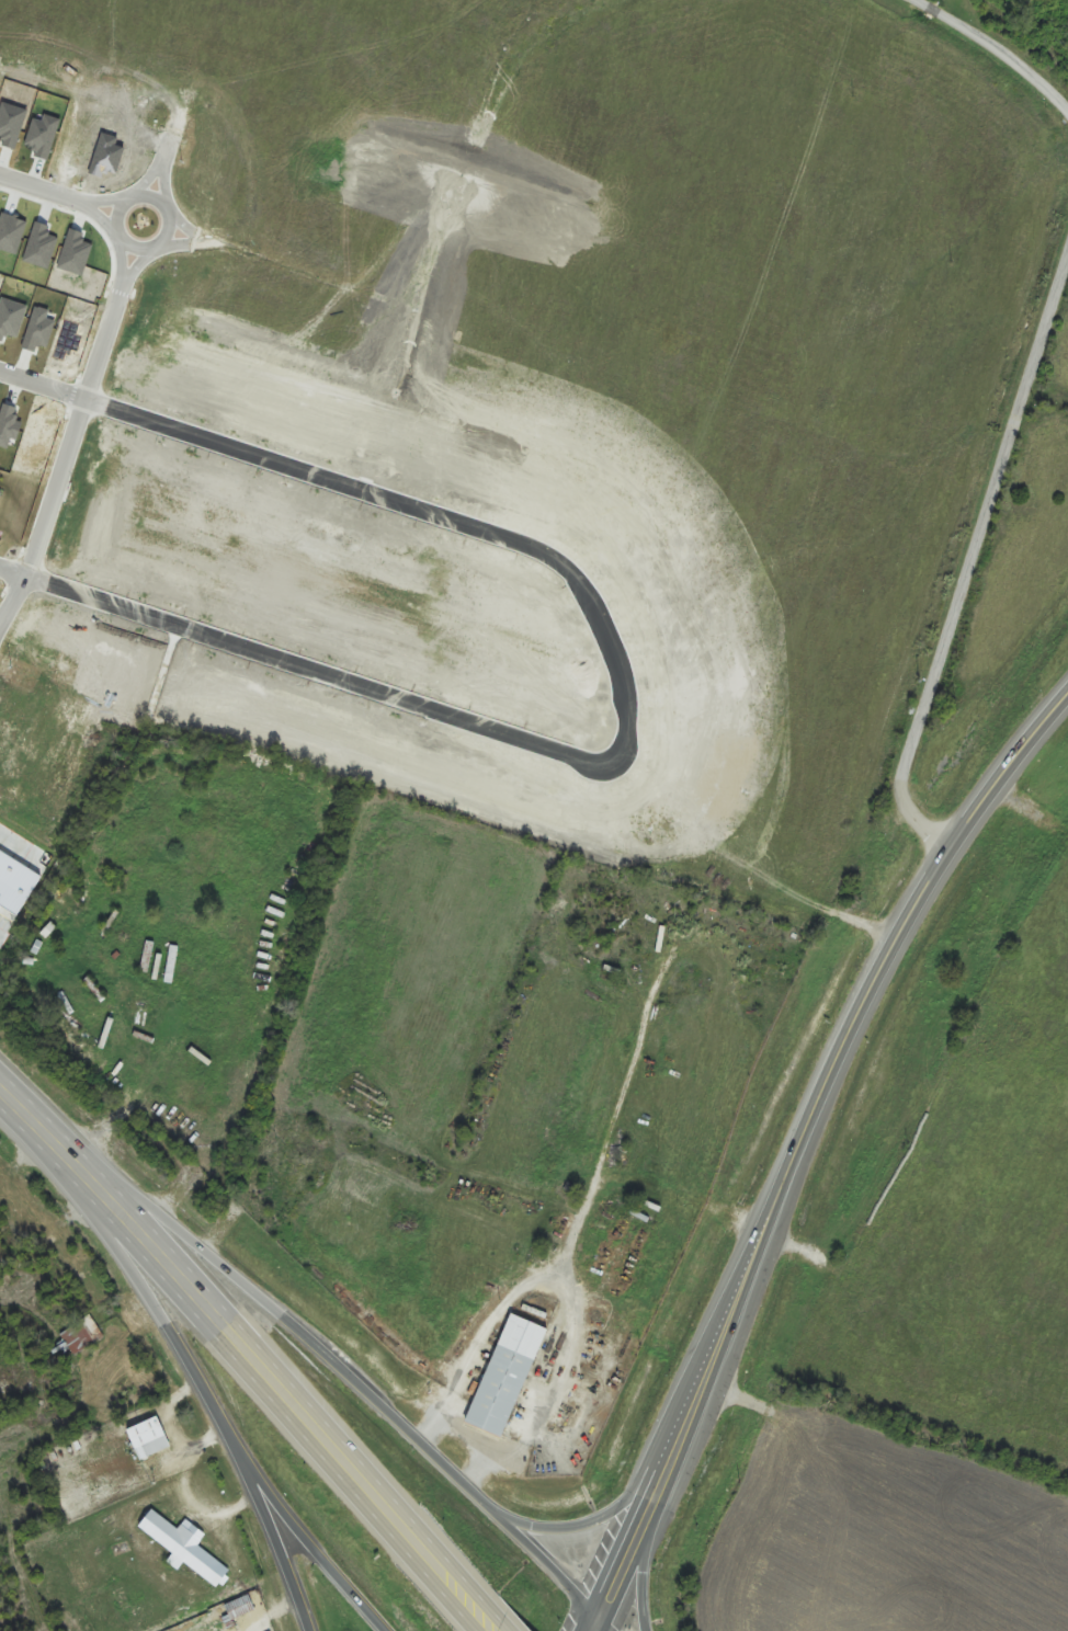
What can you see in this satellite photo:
road: (995, 50)
road: (170, 138)
road: (162, 156)
road: (39, 190)
road: (79, 203)
road: (208, 249)
road: (143, 251)
road: (120, 284)
road: (42, 385)
road: (66, 454)
road: (970, 567)
road: (13, 572)
road: (1, 621)
road: (626, 714)
road: (890, 961)
road: (52, 1115)
road: (30, 1141)
road: (572, 1233)
building: (76, 1339)
road: (479, 1343)
road: (711, 1366)
road: (356, 1384)
building: (516, 1389)
road: (305, 1390)
road: (204, 1391)
road: (270, 1401)
road: (464, 1434)
building: (149, 1438)
road: (655, 1491)
road: (583, 1524)
building: (184, 1546)
road: (318, 1551)
road: (625, 1558)
road: (643, 1565)
building: (239, 1608)
road: (512, 1623)
road: (595, 1623)
road: (605, 1623)

